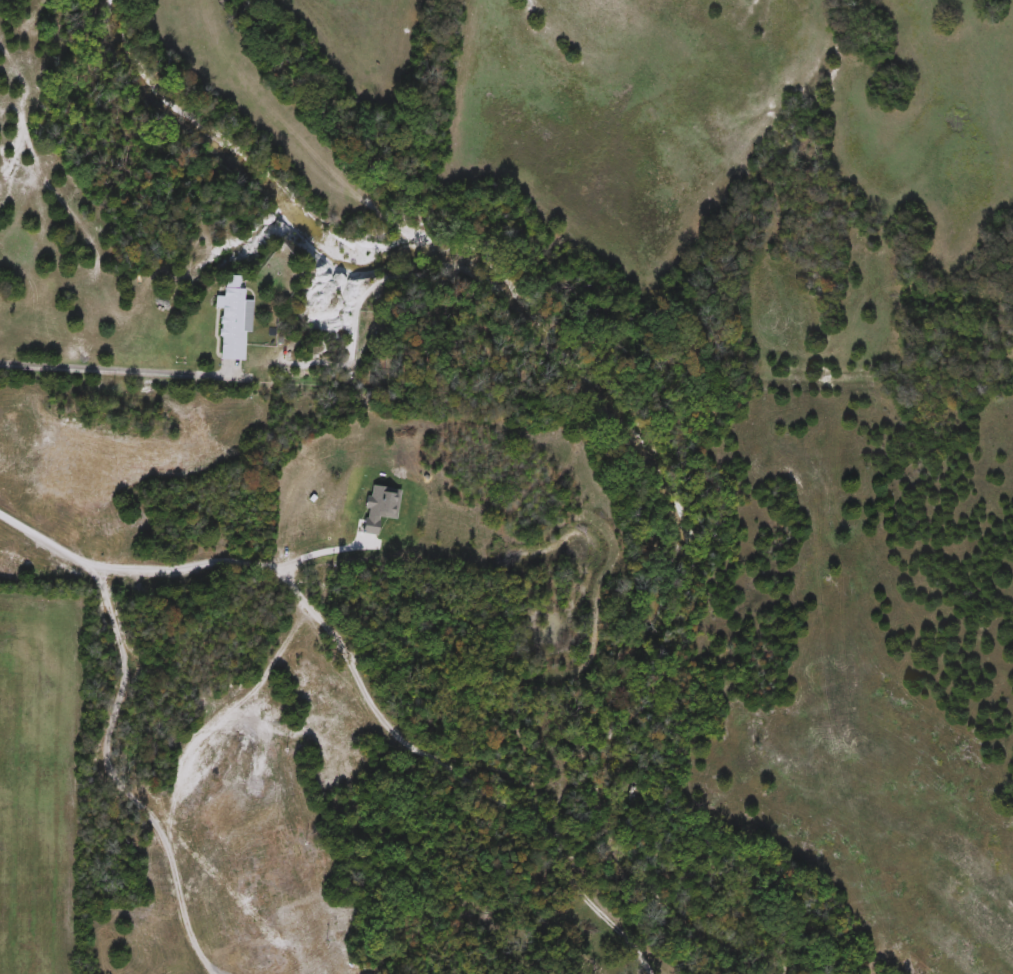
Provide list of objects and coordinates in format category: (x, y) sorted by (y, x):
building: (229, 320)
road: (112, 367)
road: (38, 531)
road: (222, 557)
road: (109, 775)
road: (455, 777)
building: (587, 965)

